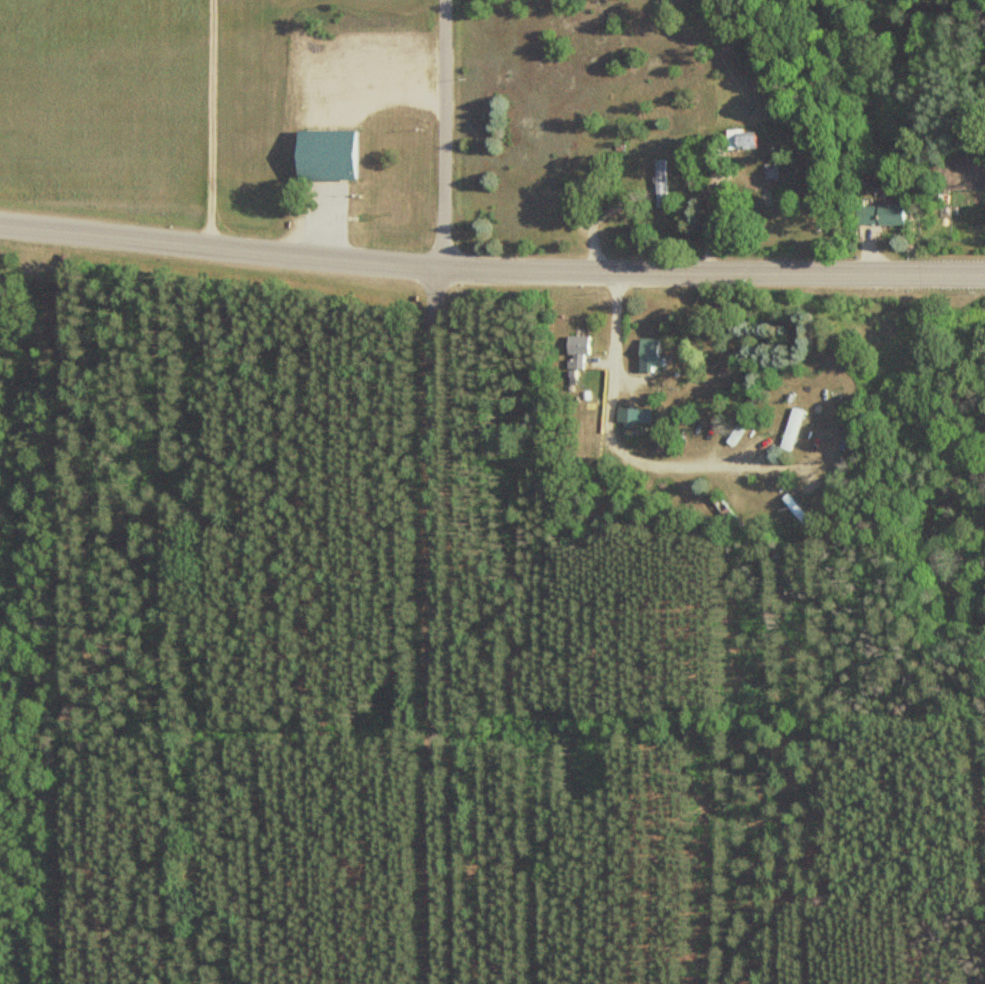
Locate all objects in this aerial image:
road: (212, 124)
building: (739, 139)
building: (322, 152)
building: (768, 172)
building: (658, 183)
building: (876, 214)
road: (491, 269)
building: (575, 352)
building: (648, 355)
building: (631, 415)
building: (790, 428)
building: (735, 433)
road: (622, 441)
road: (435, 492)

